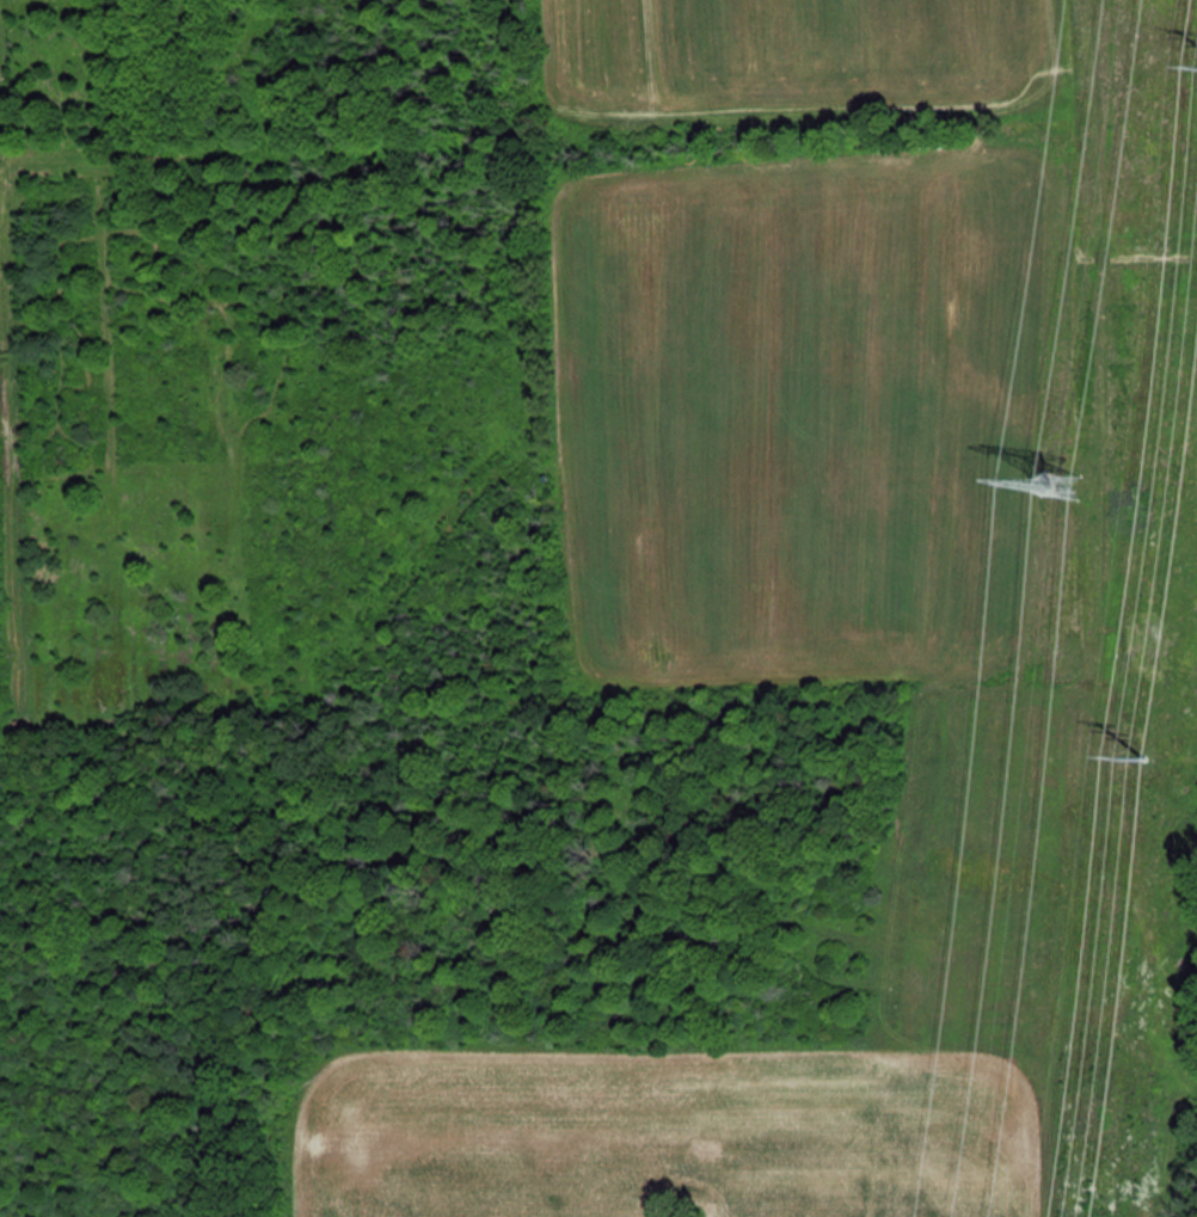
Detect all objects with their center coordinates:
power tower: (1052, 485)
power tower: (1136, 744)

